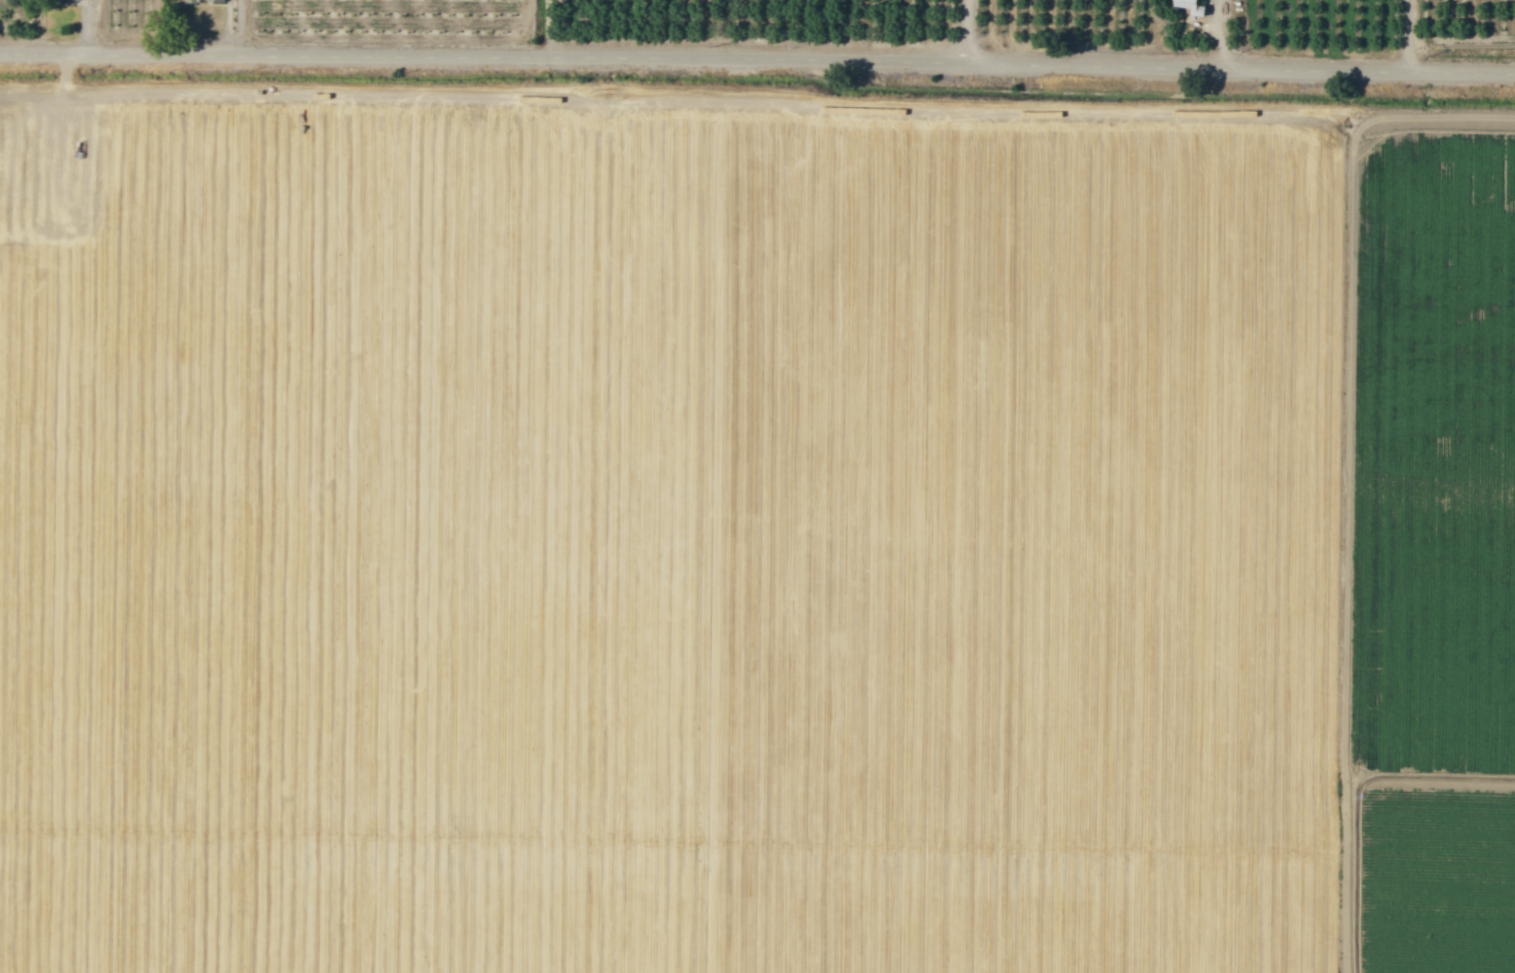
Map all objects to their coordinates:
building: (206, 0)
road: (974, 33)
road: (1414, 37)
road: (757, 63)
road: (69, 380)

